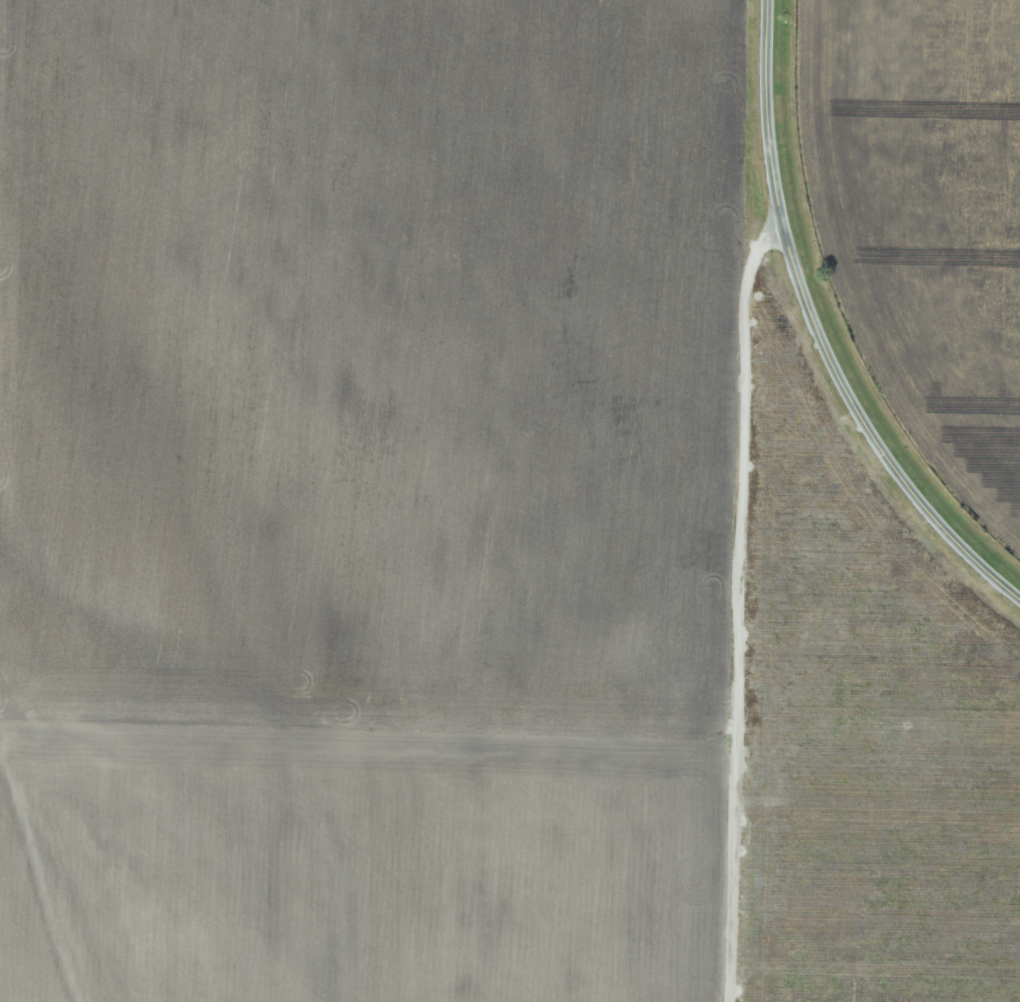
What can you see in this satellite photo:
road: (817, 333)
road: (747, 609)

